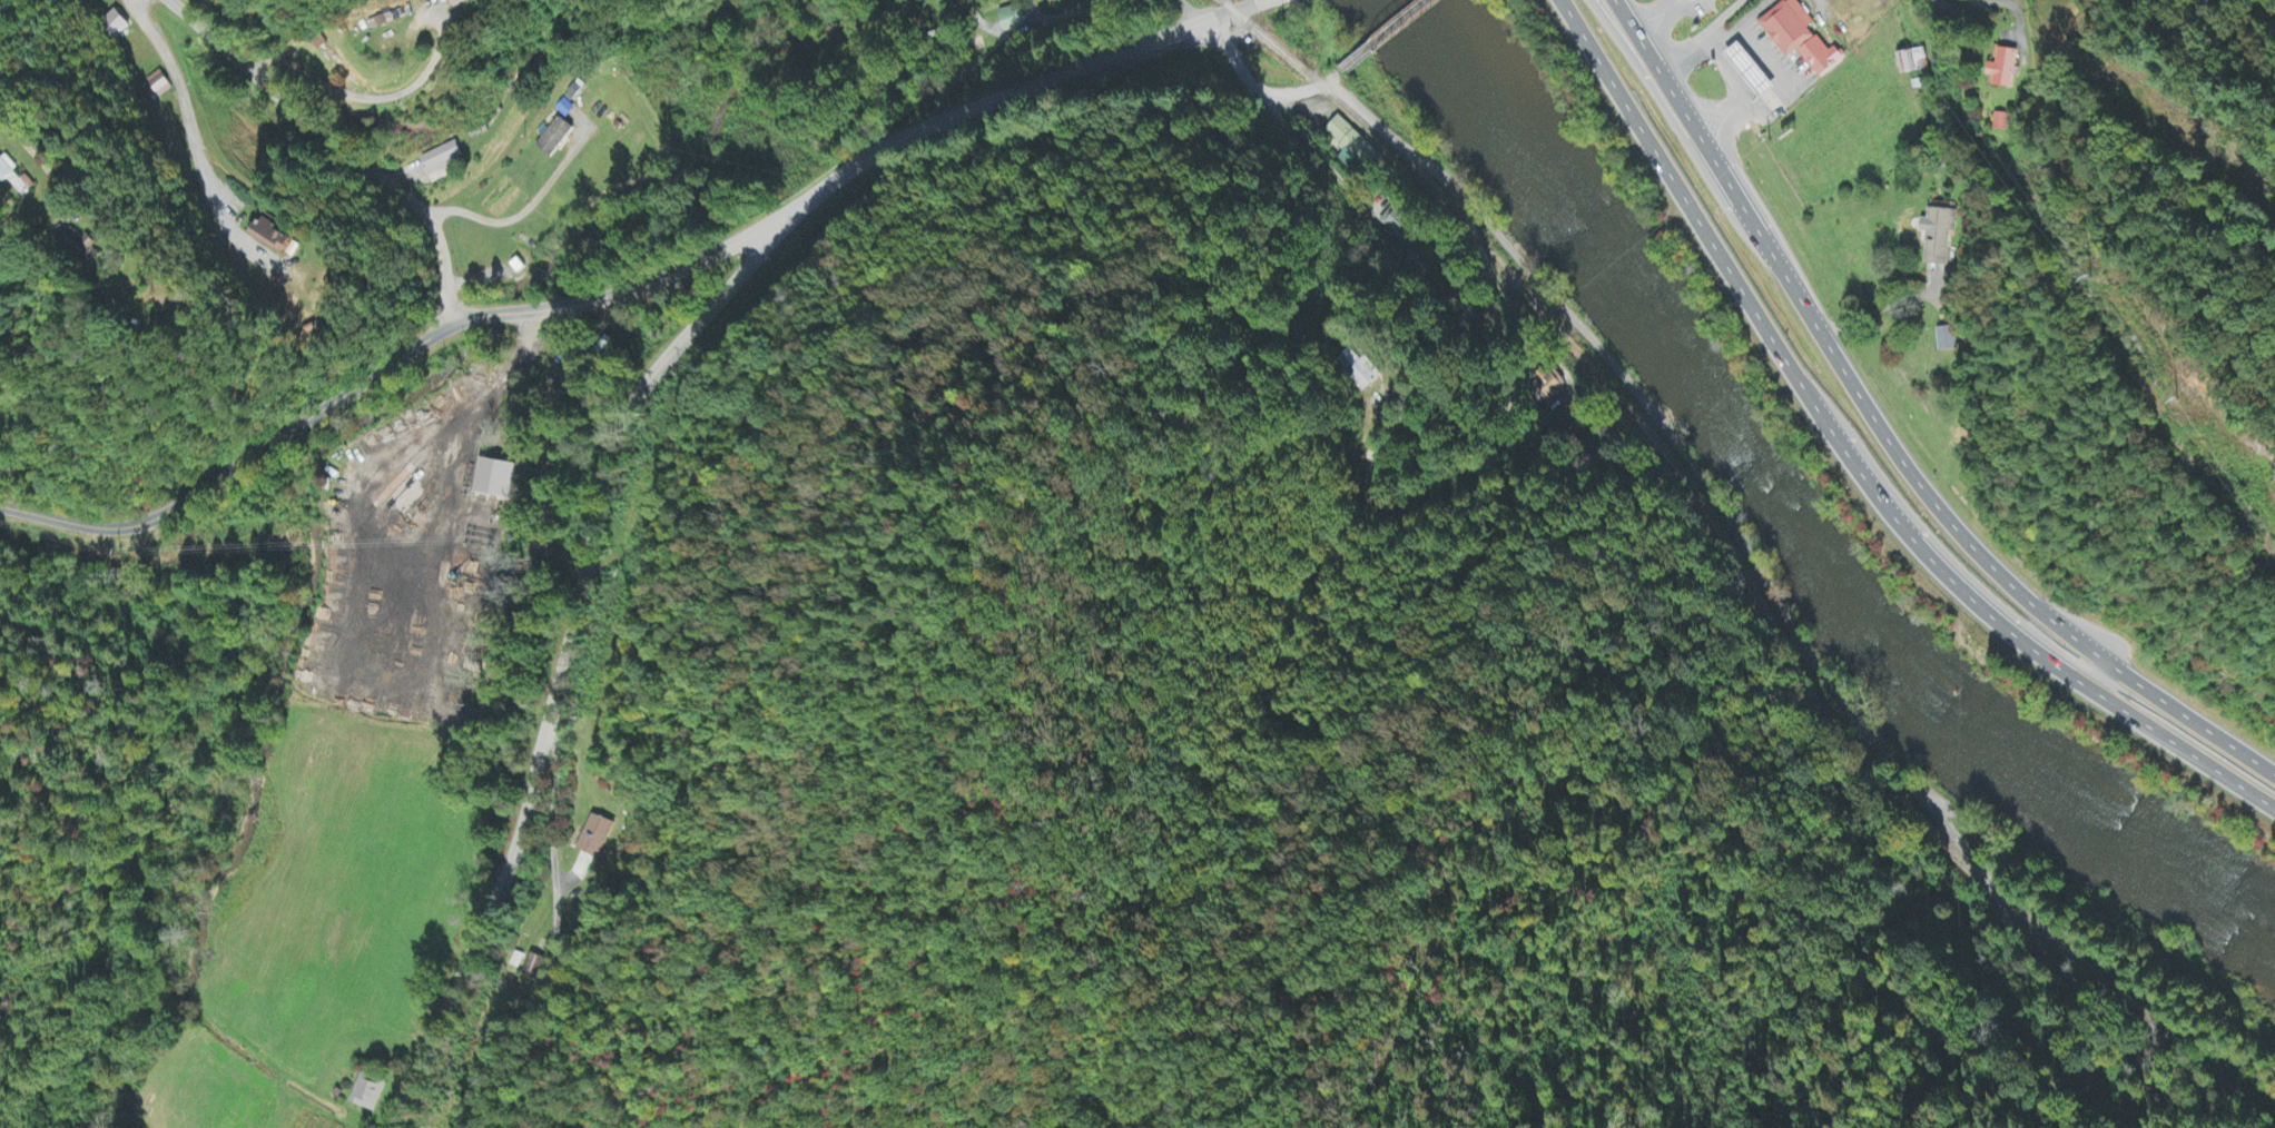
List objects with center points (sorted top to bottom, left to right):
building: (457, 2)
building: (1013, 19)
building: (114, 26)
road: (1700, 34)
road: (1385, 36)
building: (1802, 38)
building: (1912, 63)
road: (1638, 67)
building: (2005, 69)
building: (1755, 71)
road: (1331, 78)
road: (1006, 91)
road: (295, 112)
building: (2002, 122)
road: (20, 137)
building: (555, 138)
building: (1352, 147)
building: (440, 160)
building: (16, 178)
building: (1397, 222)
building: (274, 237)
building: (1939, 237)
building: (82, 248)
road: (441, 267)
building: (1944, 340)
road: (378, 372)
building: (1547, 385)
road: (1889, 437)
road: (1854, 462)
building: (495, 479)
river: (1791, 516)
road: (1729, 525)
railway: (1721, 575)
road: (2006, 606)
road: (565, 663)
building: (595, 837)
road: (550, 947)
building: (533, 968)
building: (368, 1092)

